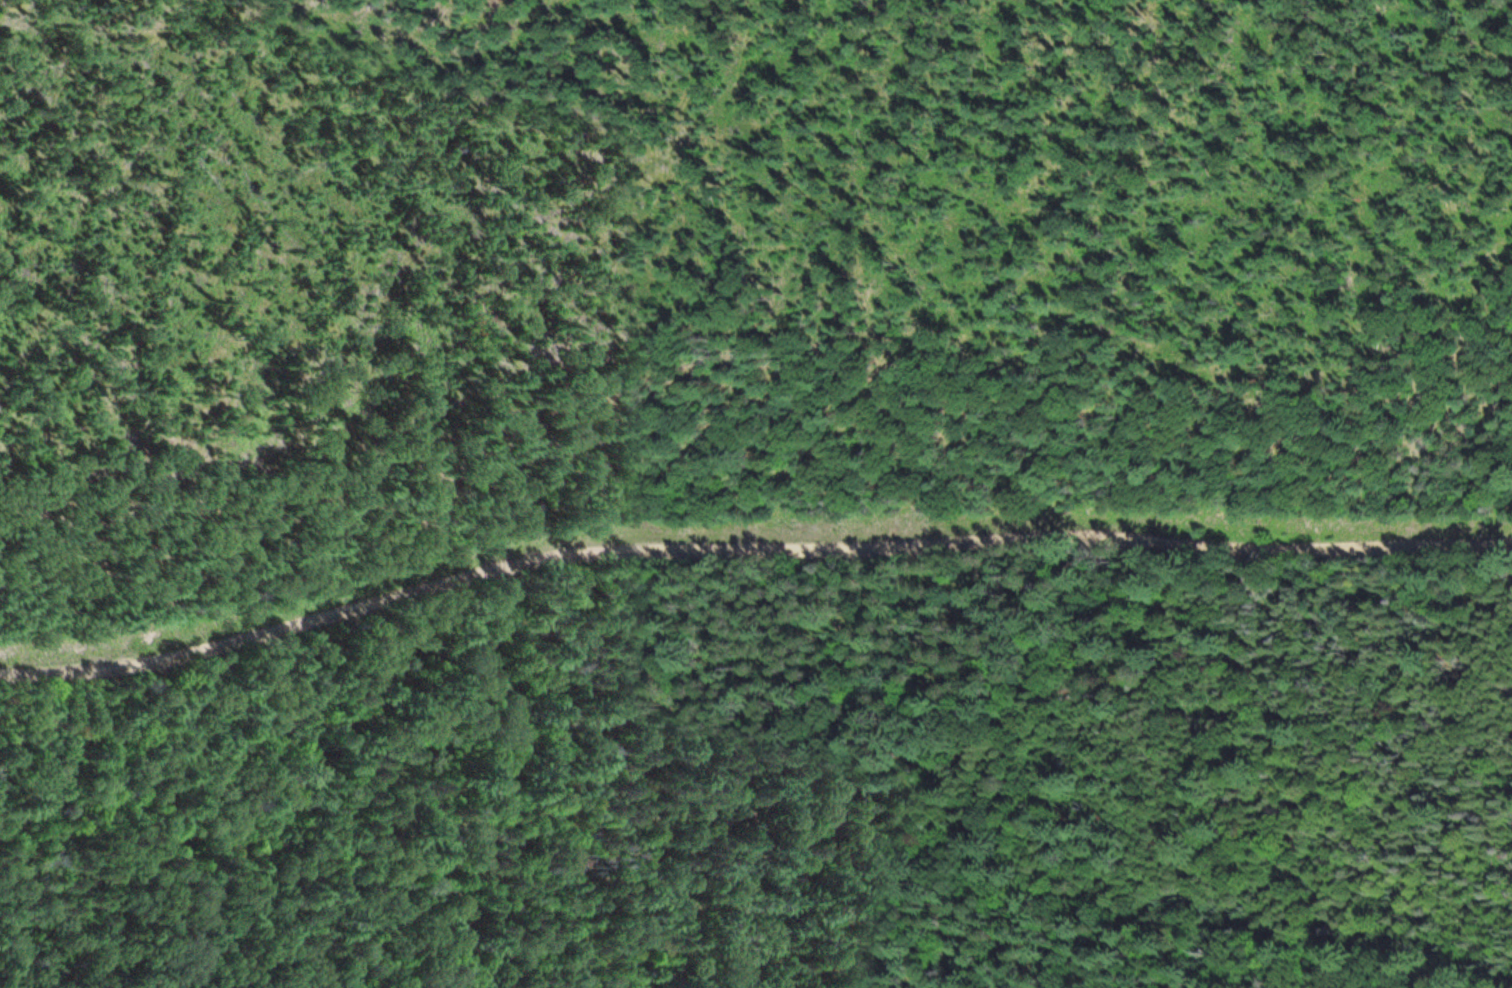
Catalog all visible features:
road: (748, 548)

